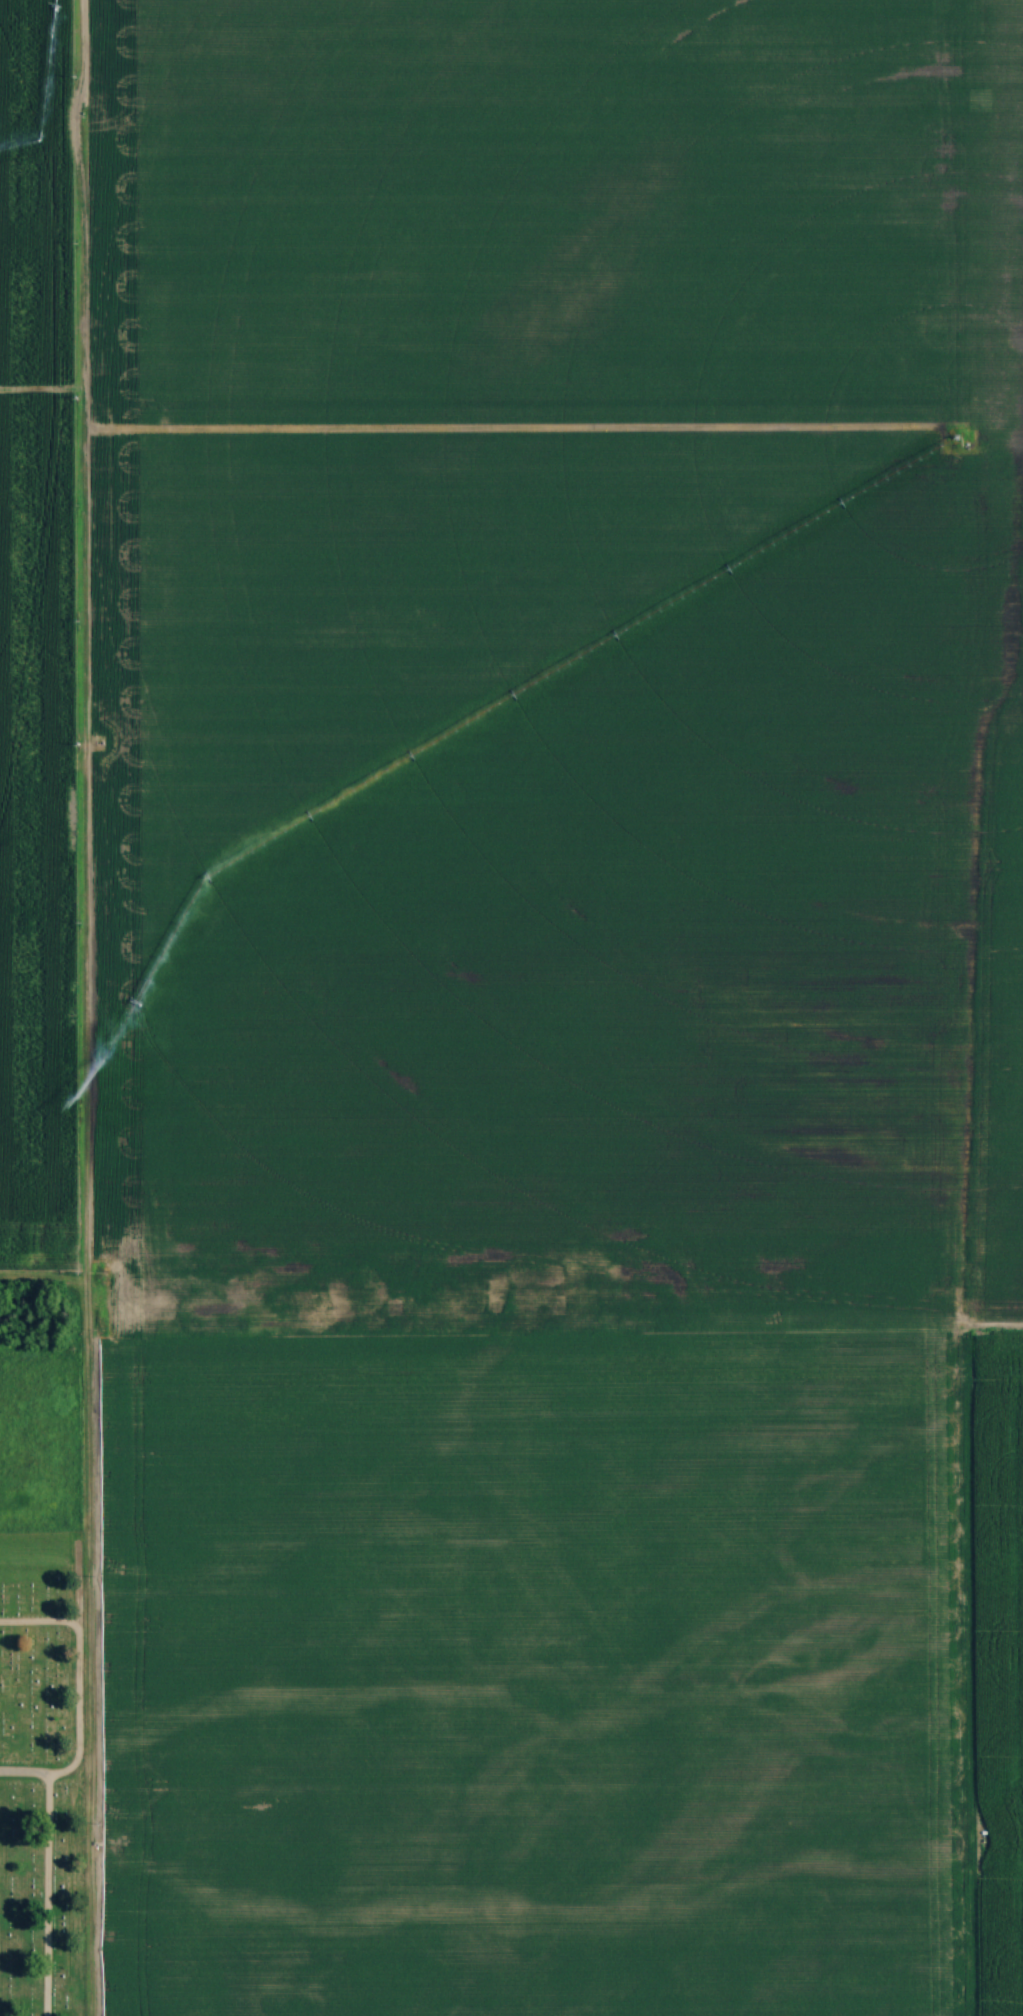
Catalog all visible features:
road: (73, 1703)
park: (45, 1783)
road: (42, 1898)

